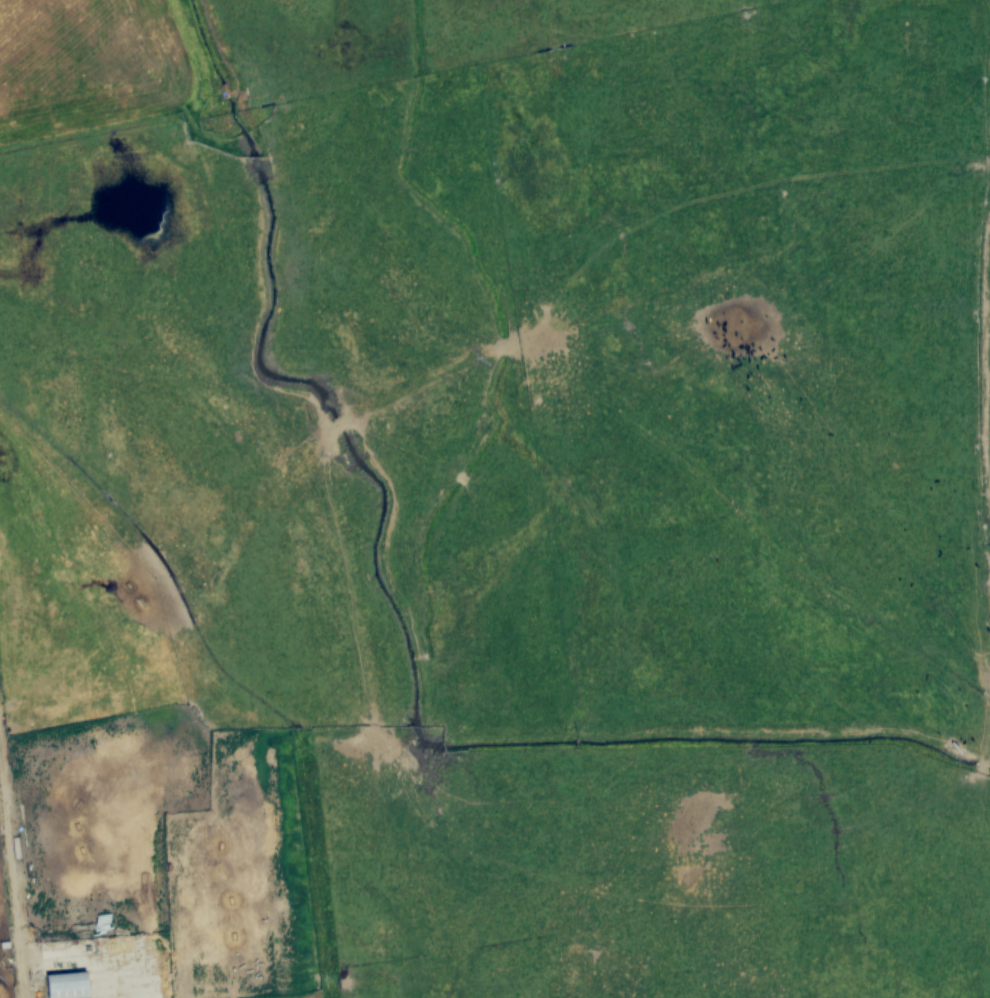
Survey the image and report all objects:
road: (16, 880)
building: (68, 985)

